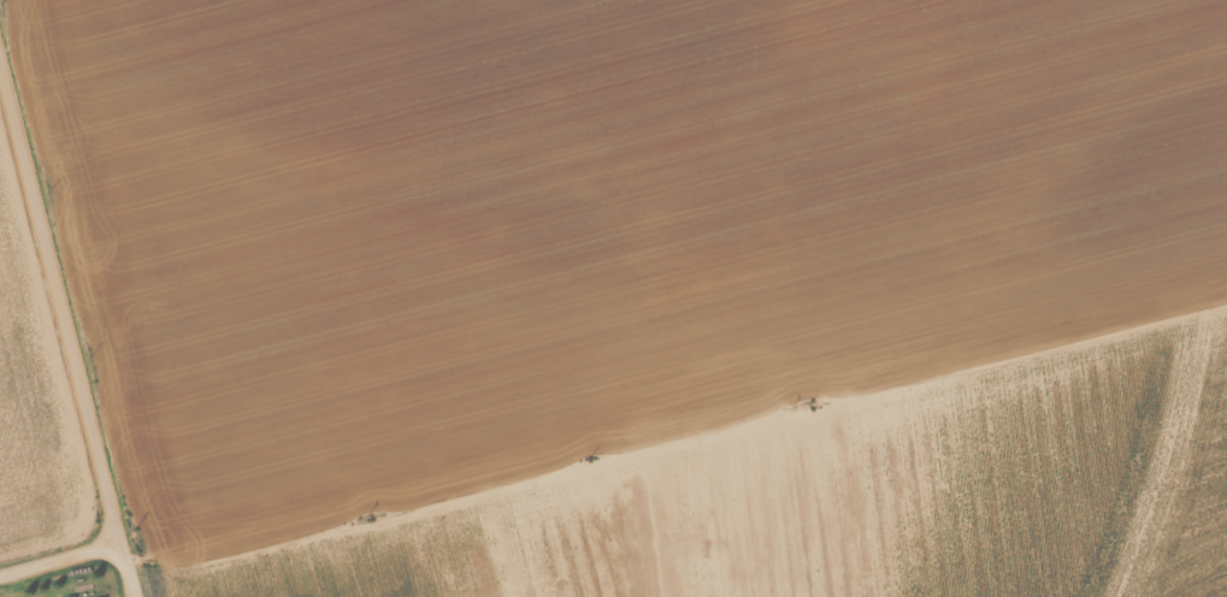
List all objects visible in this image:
road: (64, 353)
road: (426, 489)
road: (41, 568)

